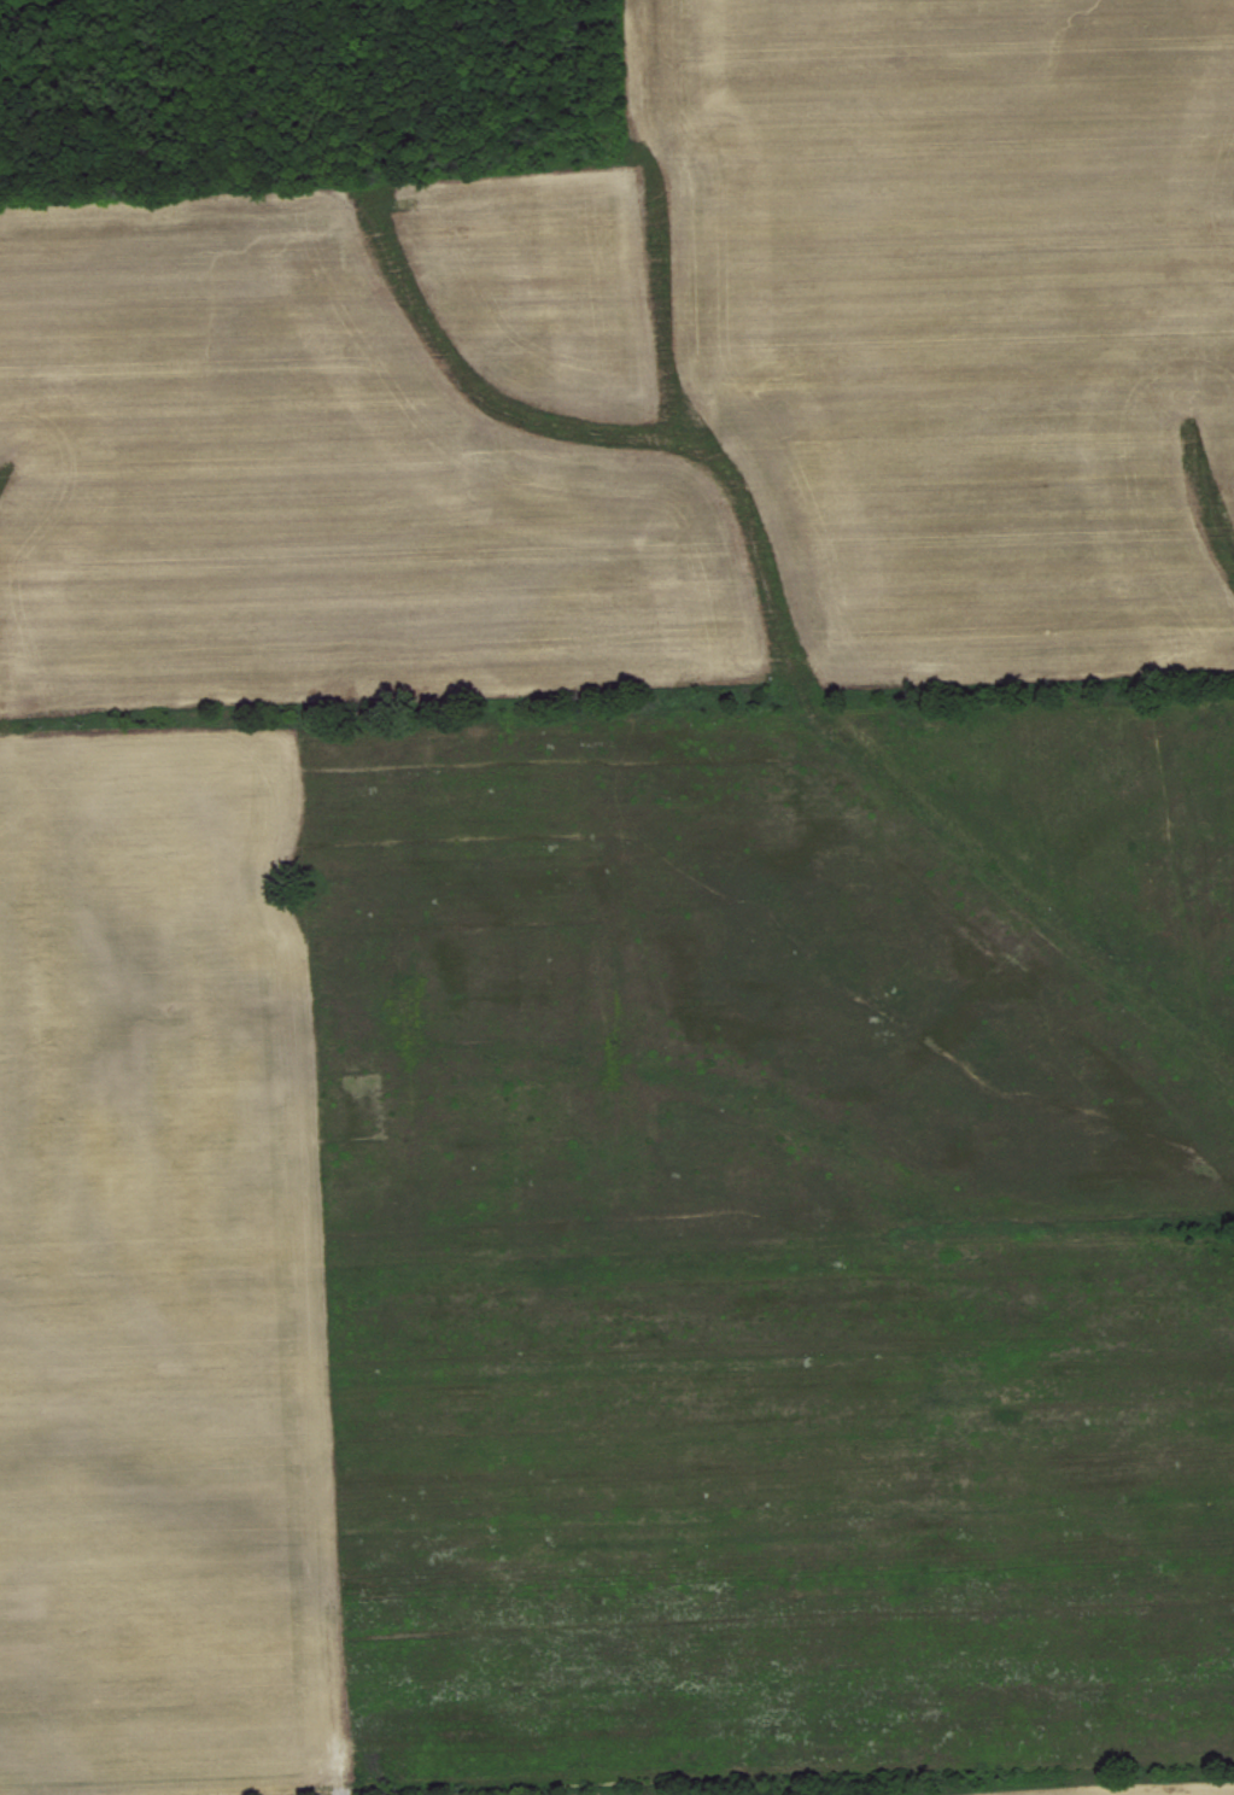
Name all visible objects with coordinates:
road: (305, 1761)

